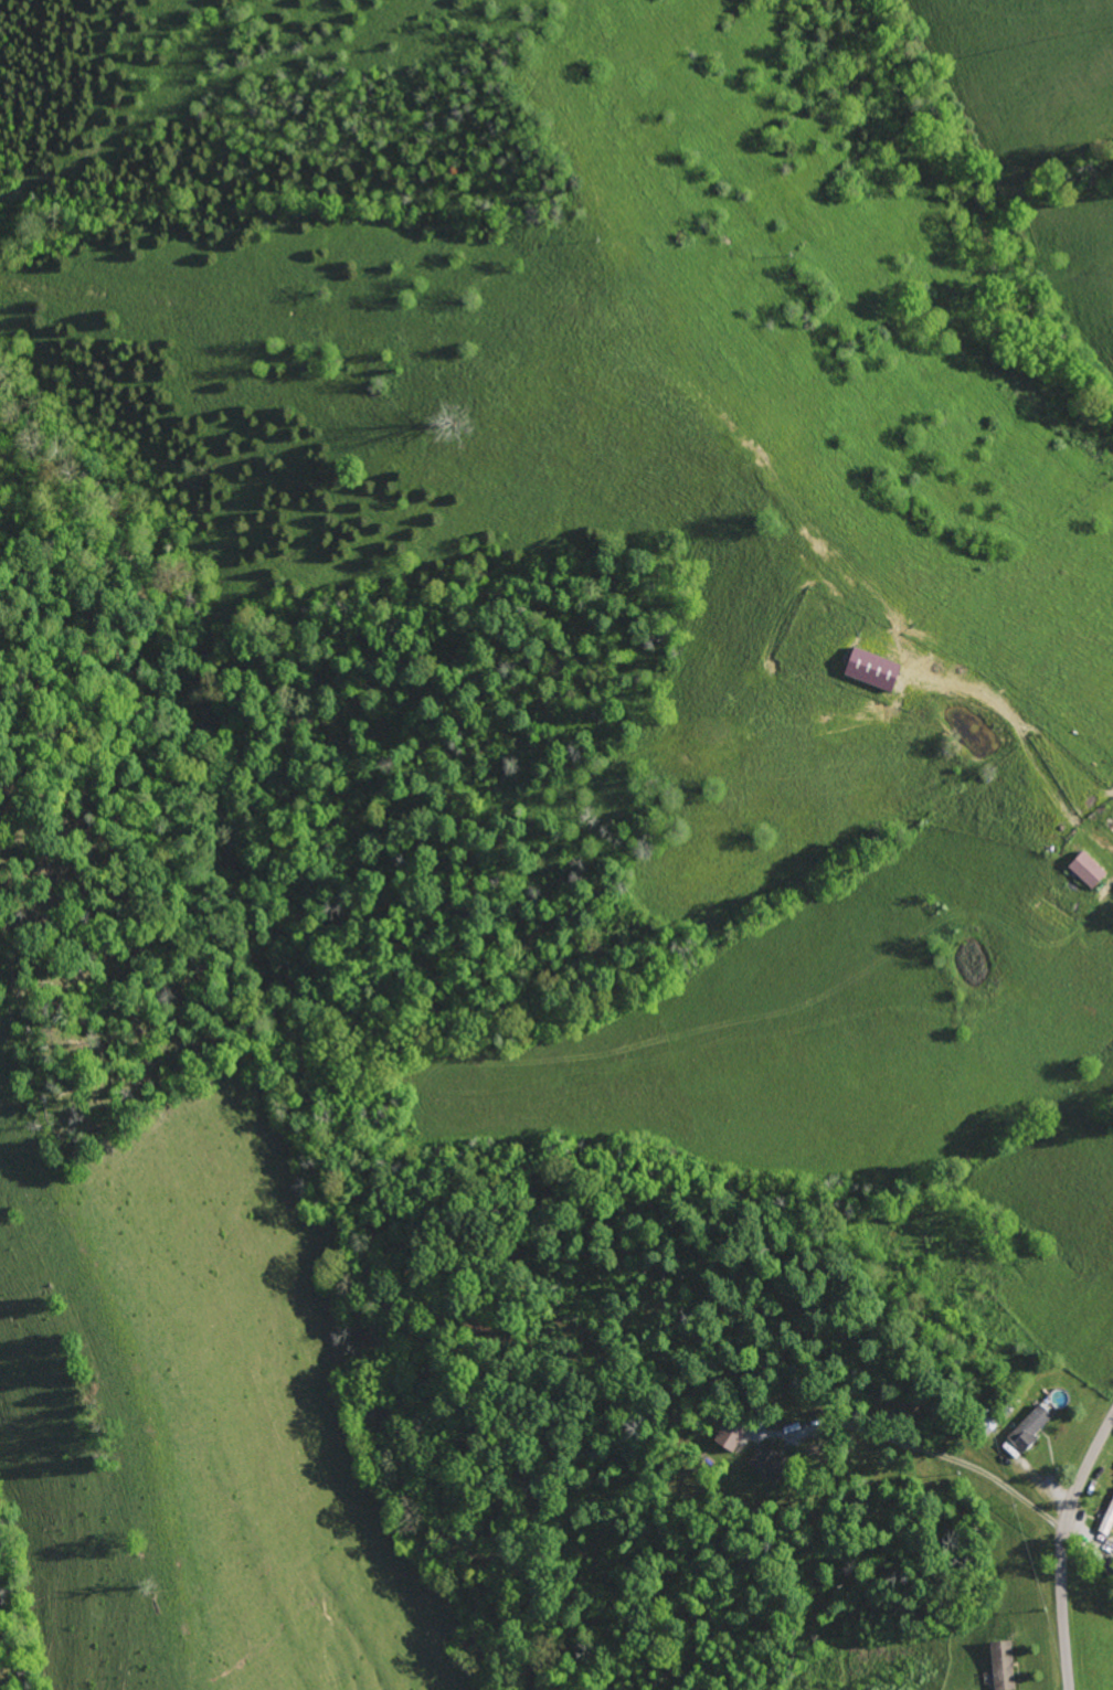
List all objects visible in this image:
building: (866, 667)
building: (1082, 869)
building: (1025, 1429)
building: (724, 1436)
road: (947, 1456)
building: (759, 1458)
building: (1106, 1517)
road: (1064, 1548)
building: (997, 1665)

